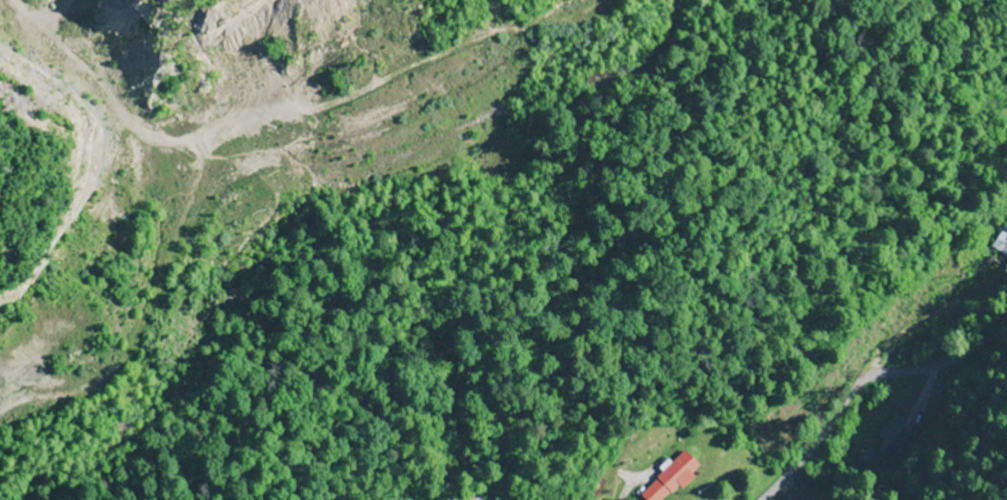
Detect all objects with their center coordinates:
road: (955, 237)
building: (1001, 242)
road: (865, 377)
building: (890, 437)
building: (669, 479)

